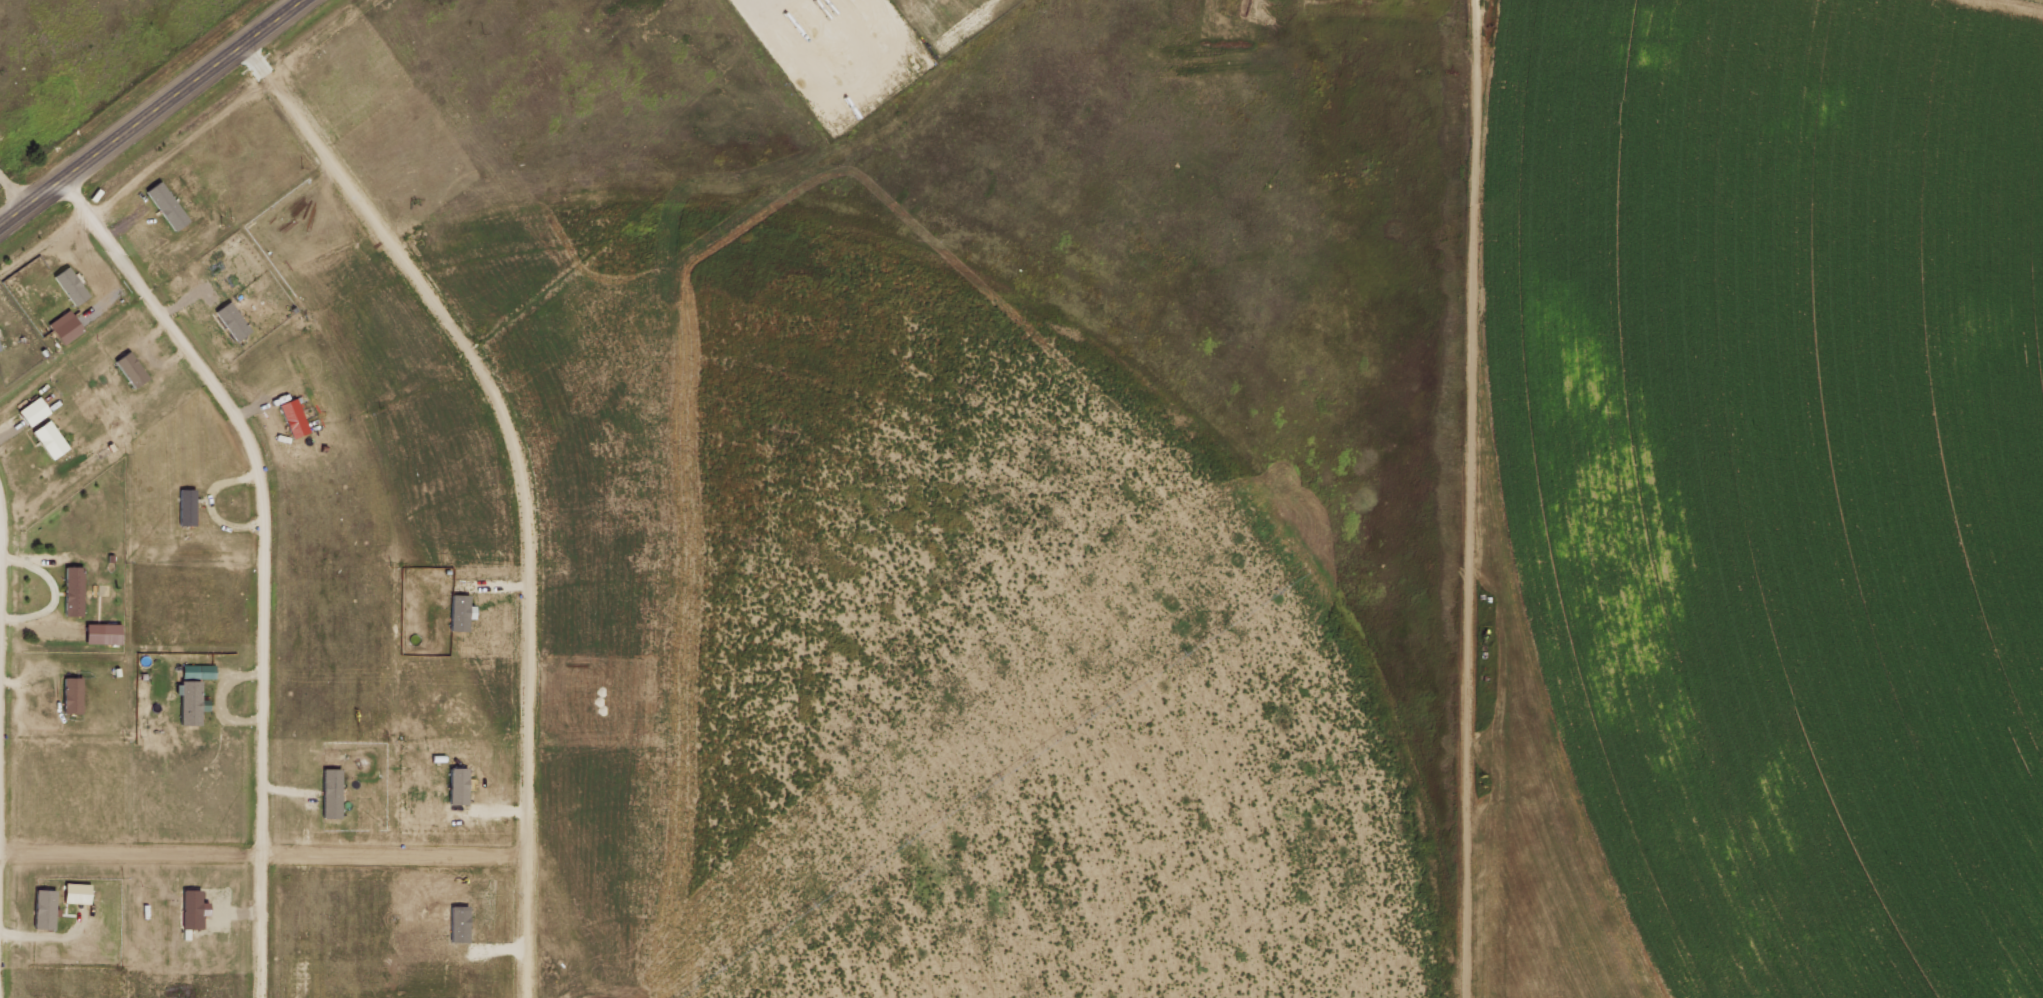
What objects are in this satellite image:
road: (152, 113)
building: (165, 205)
building: (69, 285)
building: (230, 321)
building: (63, 326)
building: (129, 368)
building: (31, 411)
building: (291, 418)
building: (47, 439)
building: (71, 591)
building: (109, 633)
building: (71, 695)
building: (188, 702)
building: (329, 793)
building: (75, 893)
building: (42, 909)
building: (191, 909)

